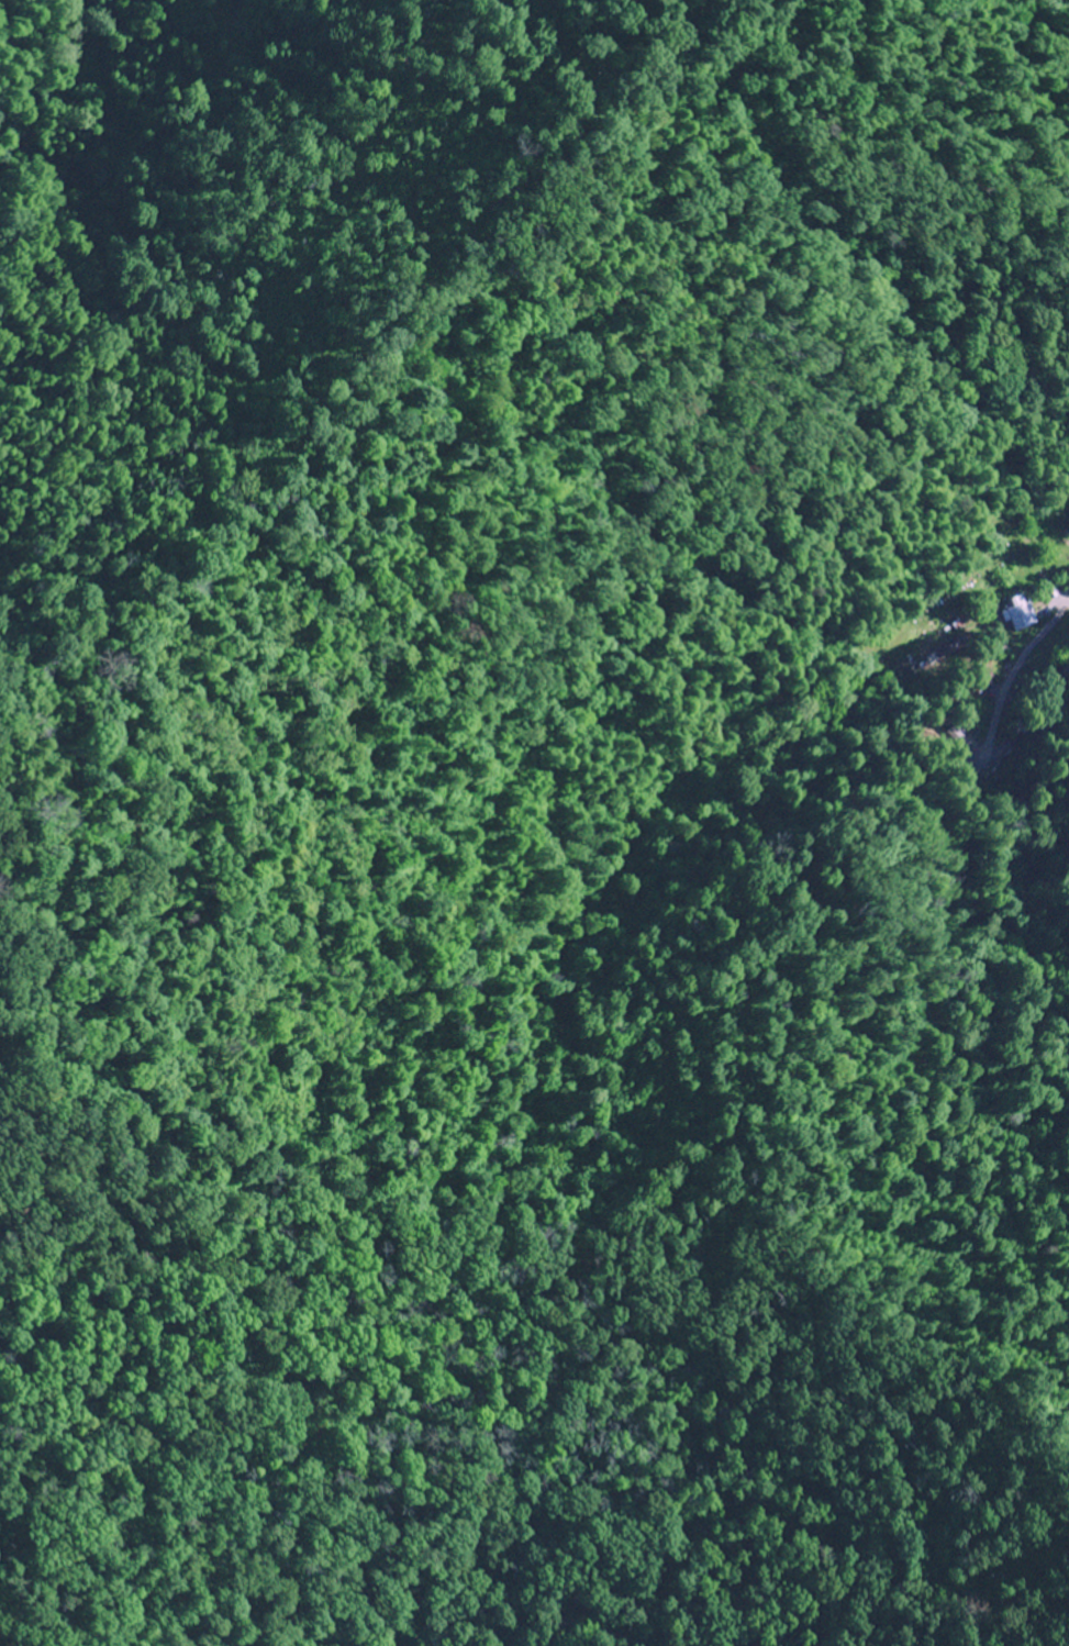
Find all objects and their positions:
building: (1016, 613)
road: (1020, 660)

